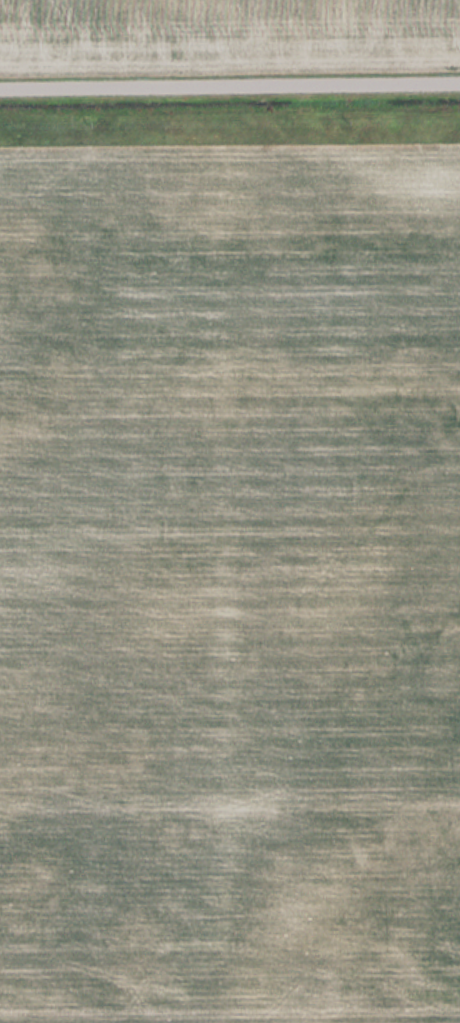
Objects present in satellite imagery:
road: (230, 87)

